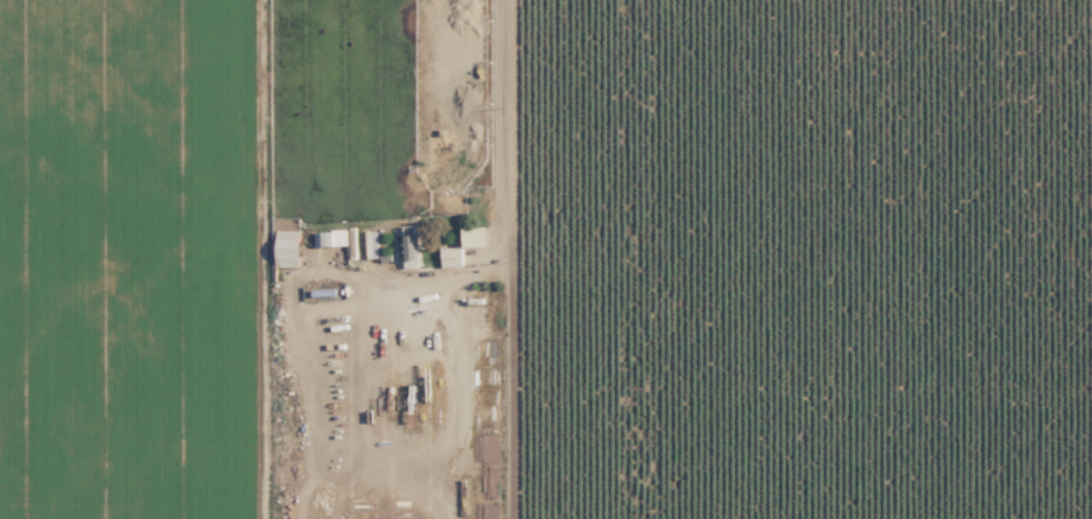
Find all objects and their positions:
road: (503, 223)
building: (473, 236)
building: (330, 237)
building: (370, 243)
building: (286, 247)
crop: (135, 258)

